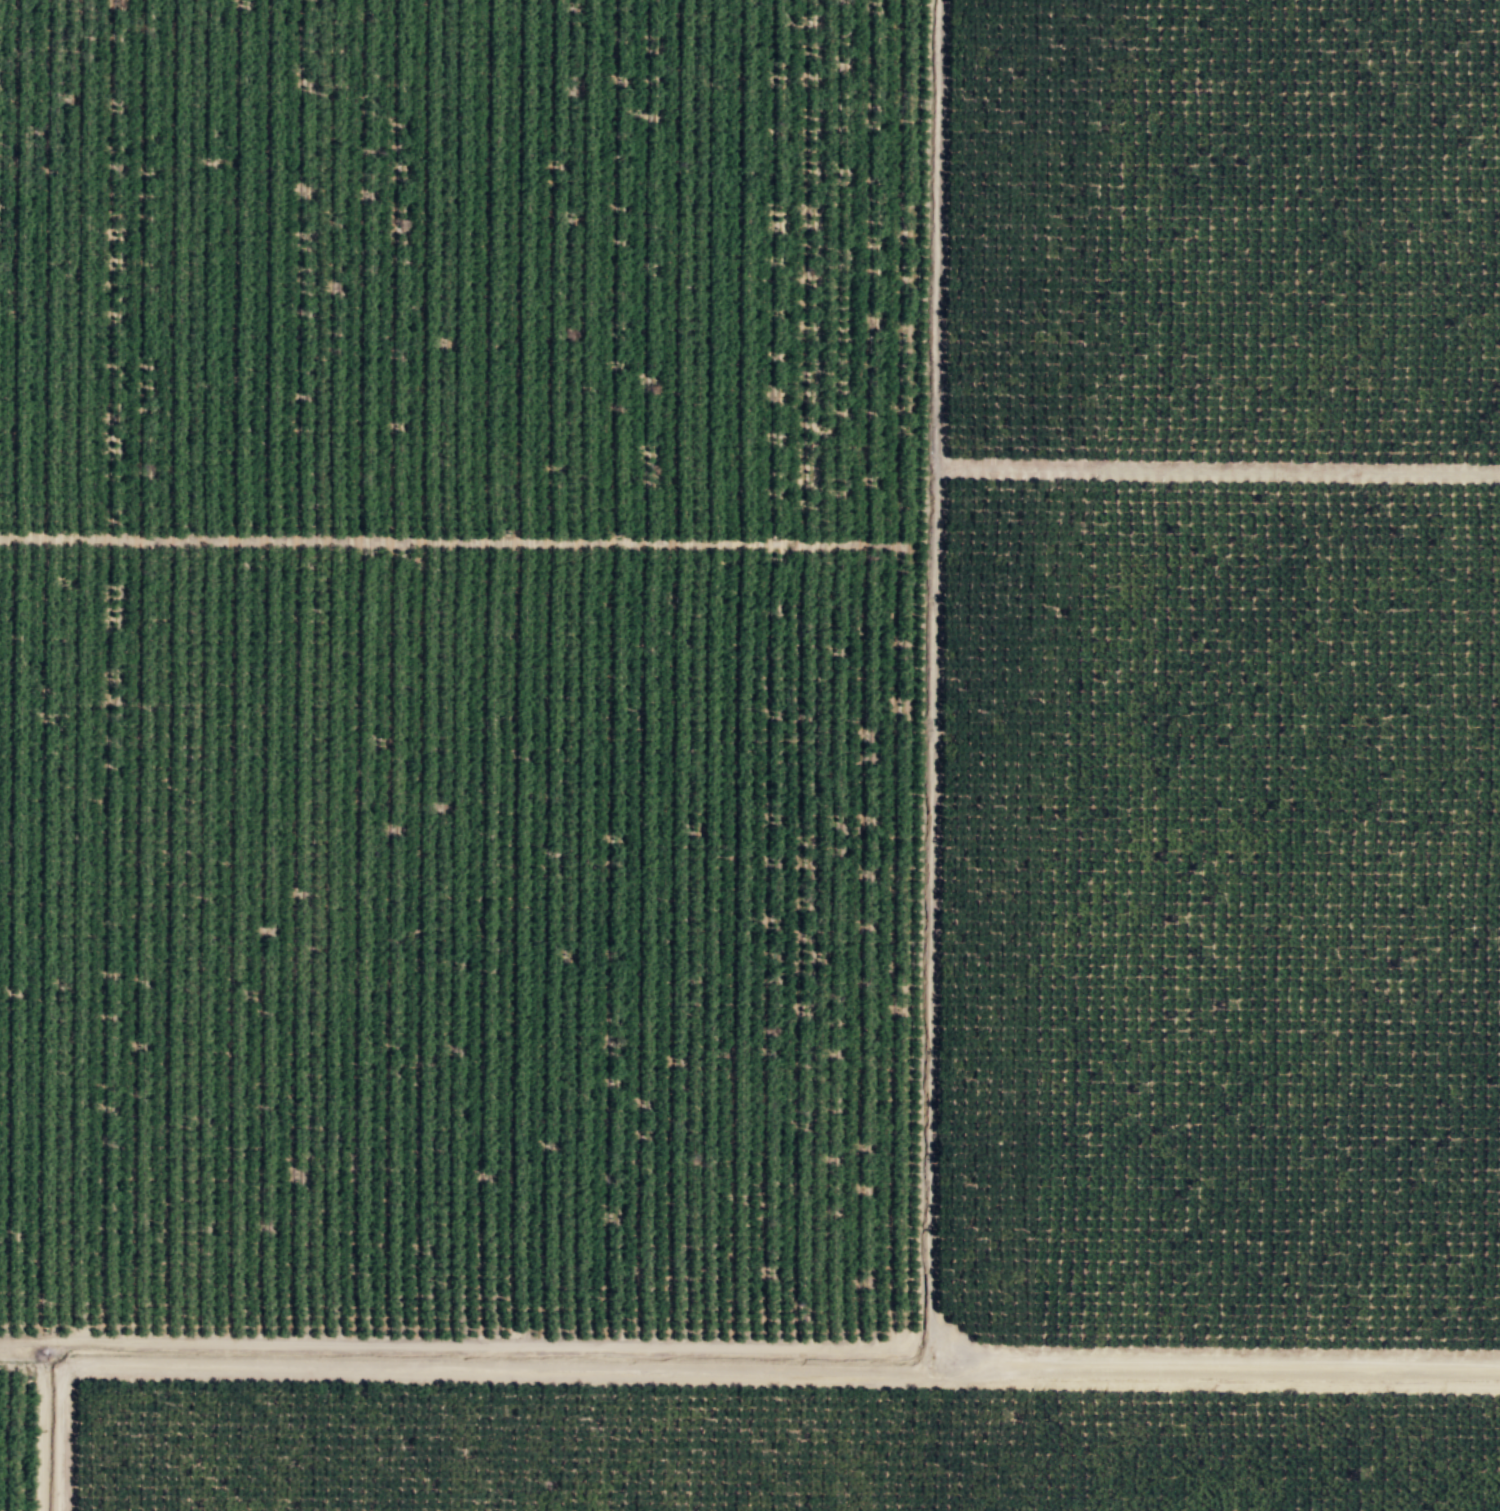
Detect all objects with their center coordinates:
road: (943, 233)
road: (1220, 470)
road: (448, 540)
road: (936, 930)
road: (916, 1127)
road: (719, 1374)
road: (42, 1426)

